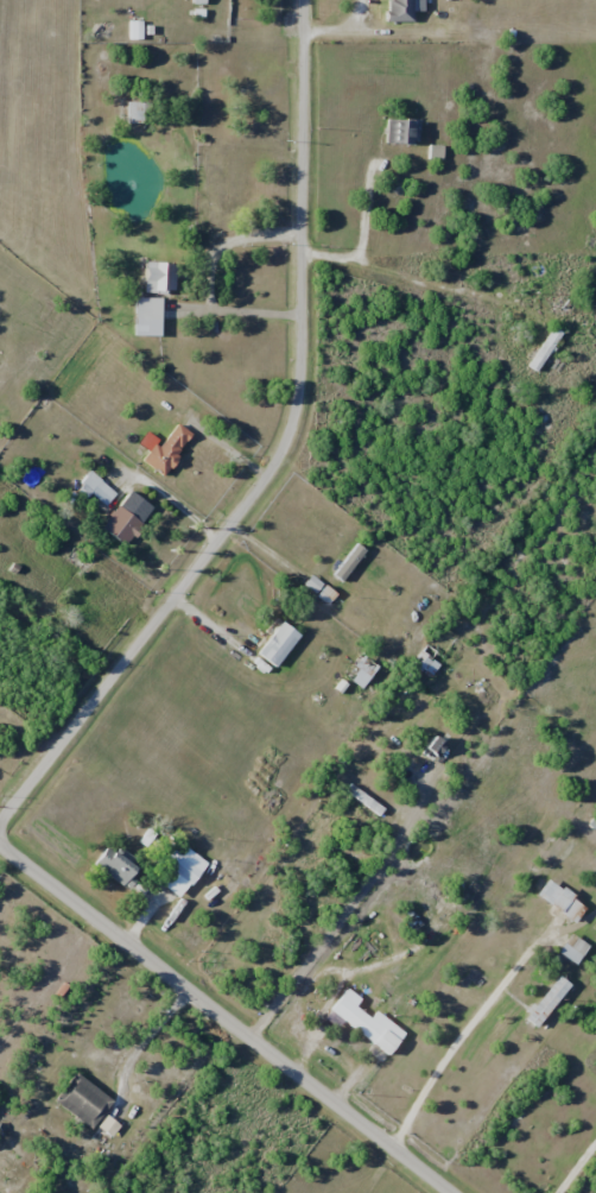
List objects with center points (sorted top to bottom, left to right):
building: (395, 10)
building: (133, 29)
building: (135, 112)
building: (208, 116)
building: (397, 131)
building: (157, 277)
building: (563, 297)
building: (146, 309)
building: (541, 349)
building: (165, 447)
road: (277, 455)
building: (96, 487)
building: (119, 524)
building: (347, 561)
building: (318, 589)
building: (275, 644)
building: (424, 662)
building: (357, 670)
building: (430, 747)
building: (115, 864)
building: (177, 872)
building: (556, 897)
road: (347, 913)
building: (571, 948)
building: (543, 1001)
road: (224, 1018)
building: (364, 1022)
road: (457, 1039)
building: (80, 1100)
building: (5, 1167)
road: (576, 1167)

